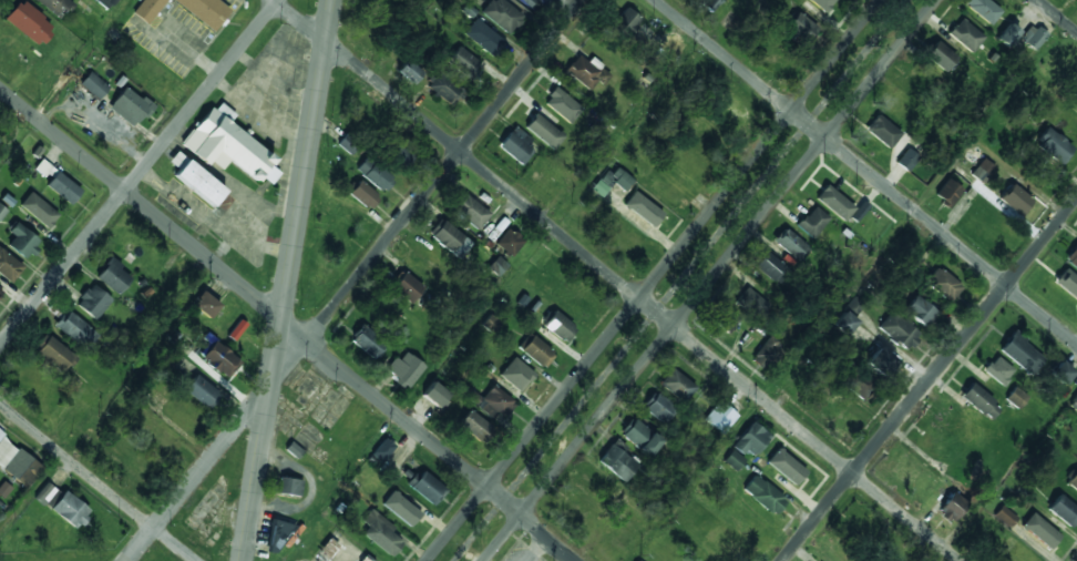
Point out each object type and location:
building: (529, 2)
building: (105, 3)
building: (709, 3)
building: (822, 4)
building: (54, 6)
building: (147, 9)
building: (983, 9)
building: (204, 11)
building: (502, 16)
road: (1057, 16)
building: (29, 22)
building: (626, 22)
building: (801, 30)
building: (1006, 34)
building: (965, 35)
building: (1032, 37)
building: (485, 38)
road: (401, 39)
building: (670, 51)
building: (940, 55)
building: (463, 61)
building: (408, 71)
building: (586, 72)
building: (93, 84)
building: (444, 88)
building: (1074, 93)
building: (563, 105)
building: (130, 106)
building: (730, 109)
road: (640, 112)
road: (989, 115)
building: (882, 131)
building: (544, 132)
building: (227, 145)
building: (516, 145)
building: (1053, 146)
building: (906, 160)
road: (139, 171)
road: (866, 171)
building: (373, 174)
building: (979, 176)
building: (195, 180)
building: (613, 181)
building: (62, 187)
building: (946, 193)
building: (363, 195)
building: (1015, 198)
building: (834, 203)
building: (39, 210)
building: (643, 210)
building: (2, 211)
building: (469, 211)
building: (812, 222)
building: (450, 238)
building: (22, 241)
building: (509, 243)
building: (792, 245)
building: (1073, 257)
building: (8, 266)
building: (498, 266)
building: (771, 267)
building: (113, 276)
road: (353, 279)
road: (618, 279)
road: (653, 279)
road: (678, 279)
road: (287, 280)
road: (710, 280)
building: (1067, 282)
building: (942, 284)
building: (0, 287)
building: (407, 287)
building: (93, 302)
building: (751, 303)
building: (205, 304)
building: (853, 307)
building: (920, 310)
building: (728, 318)
road: (288, 324)
building: (843, 324)
building: (492, 325)
building: (558, 326)
building: (76, 329)
building: (897, 330)
building: (368, 343)
building: (537, 351)
building: (767, 353)
building: (52, 354)
building: (1020, 354)
building: (218, 358)
road: (141, 359)
building: (880, 361)
building: (404, 368)
building: (998, 369)
building: (1060, 373)
building: (516, 375)
road: (929, 378)
building: (798, 379)
building: (677, 385)
building: (860, 386)
building: (202, 391)
building: (435, 394)
building: (1015, 397)
building: (1075, 399)
building: (485, 400)
building: (979, 401)
building: (657, 407)
building: (840, 412)
building: (718, 416)
building: (474, 426)
building: (639, 437)
building: (750, 439)
building: (382, 450)
building: (732, 459)
building: (617, 461)
building: (17, 462)
building: (786, 466)
road: (1005, 471)
building: (1073, 480)
road: (98, 481)
building: (289, 486)
building: (425, 487)
building: (763, 494)
building: (62, 504)
building: (400, 508)
building: (951, 508)
building: (1063, 510)
building: (1005, 516)
building: (1039, 530)
building: (380, 532)
building: (277, 534)
building: (328, 547)
building: (363, 558)
building: (637, 560)

